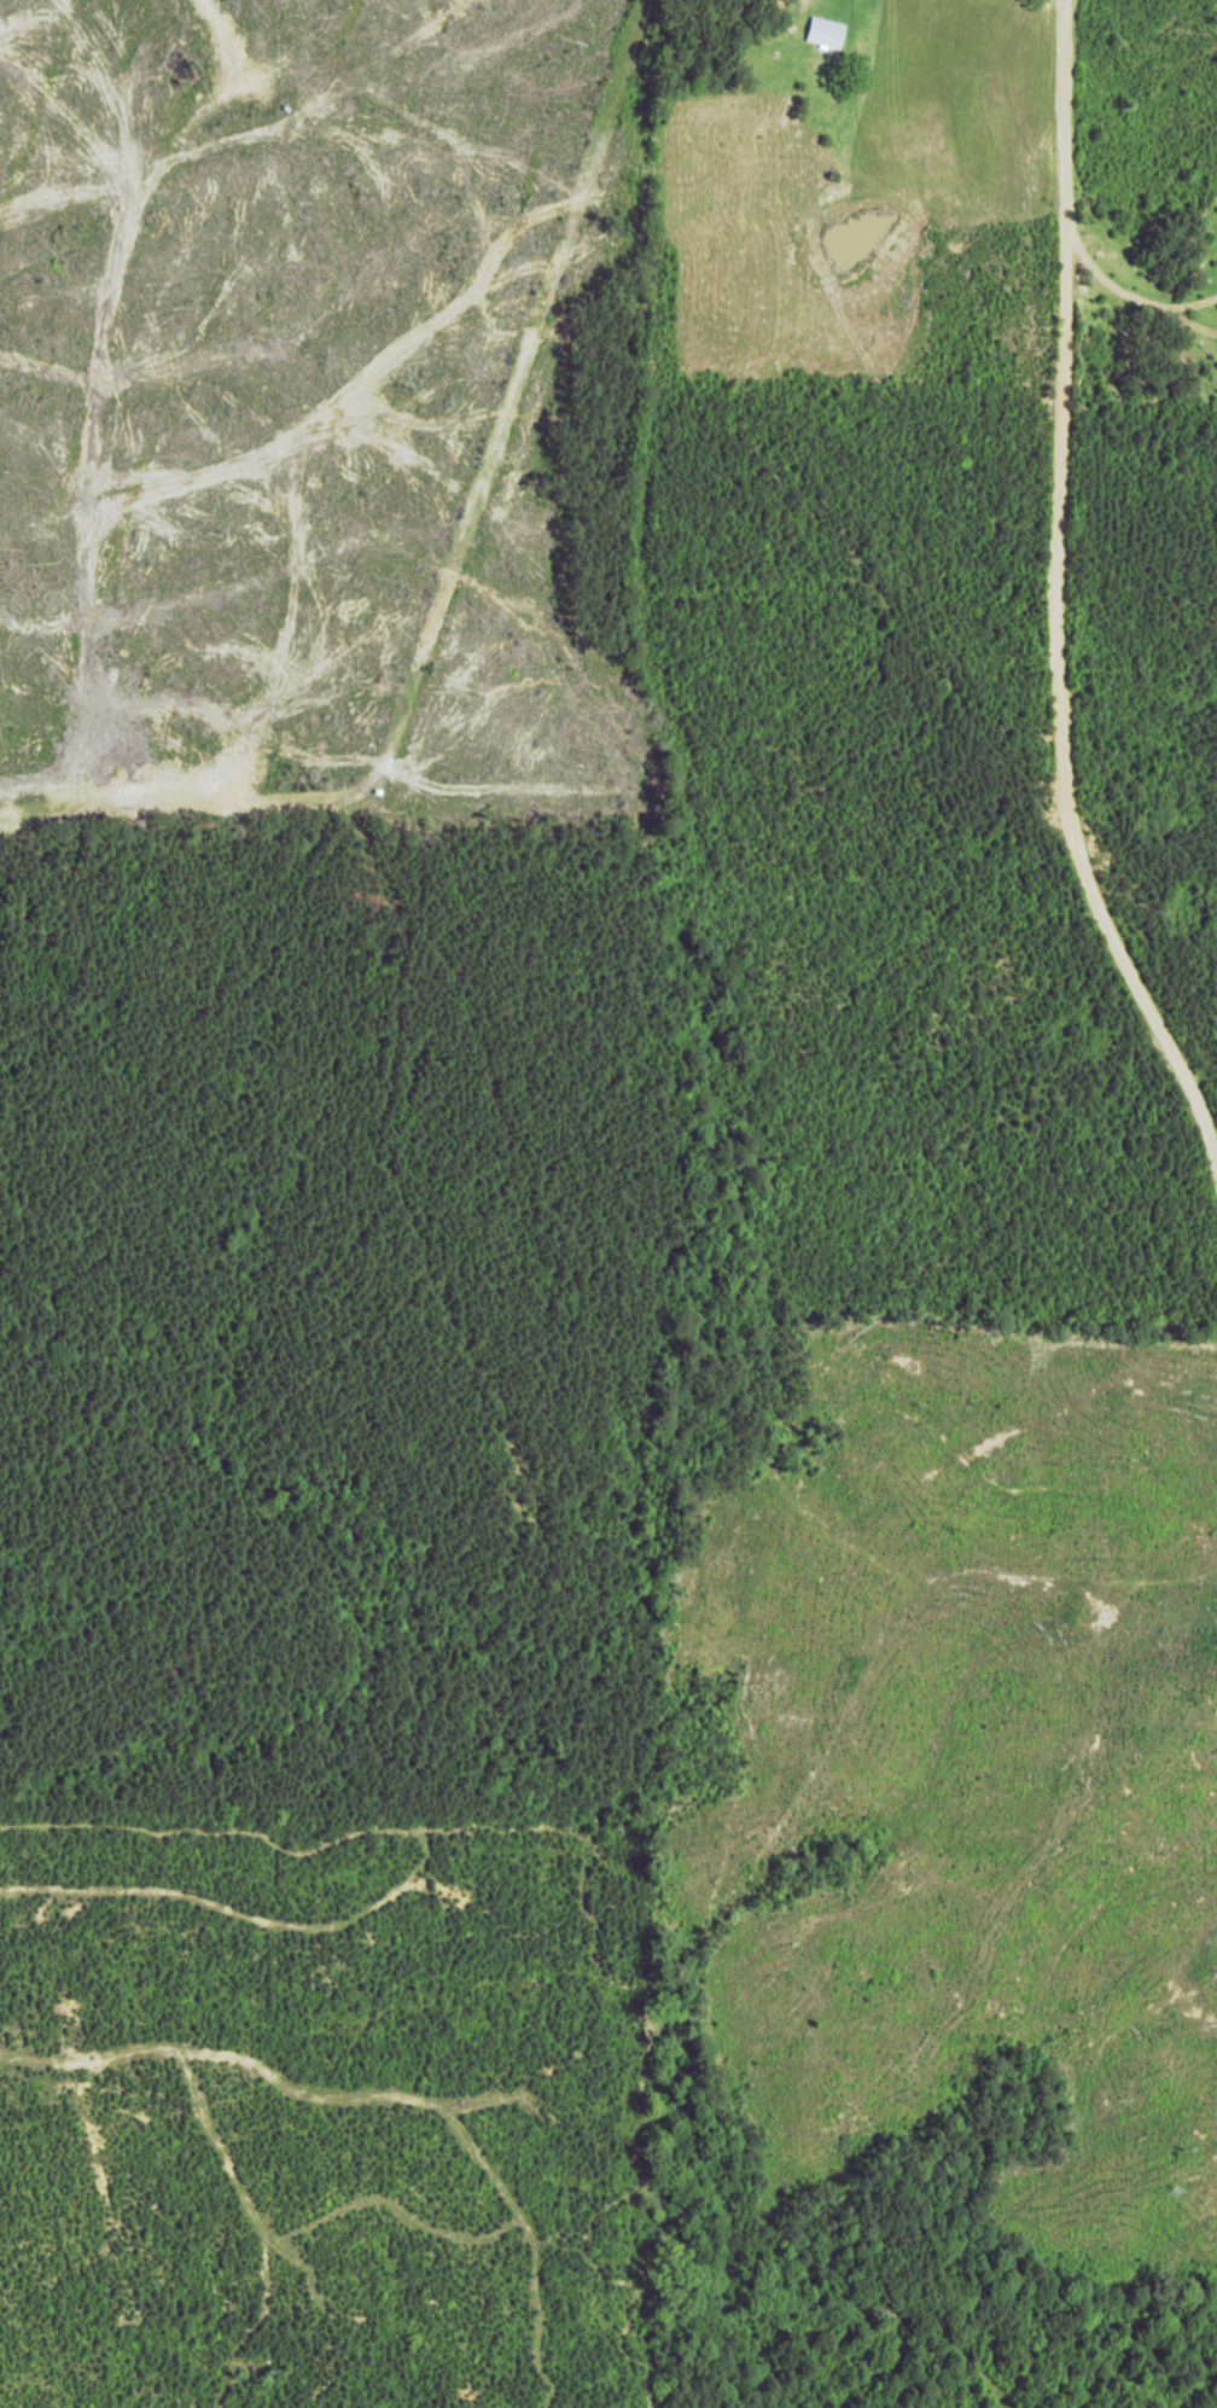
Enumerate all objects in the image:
building: (827, 31)
road: (1076, 627)

